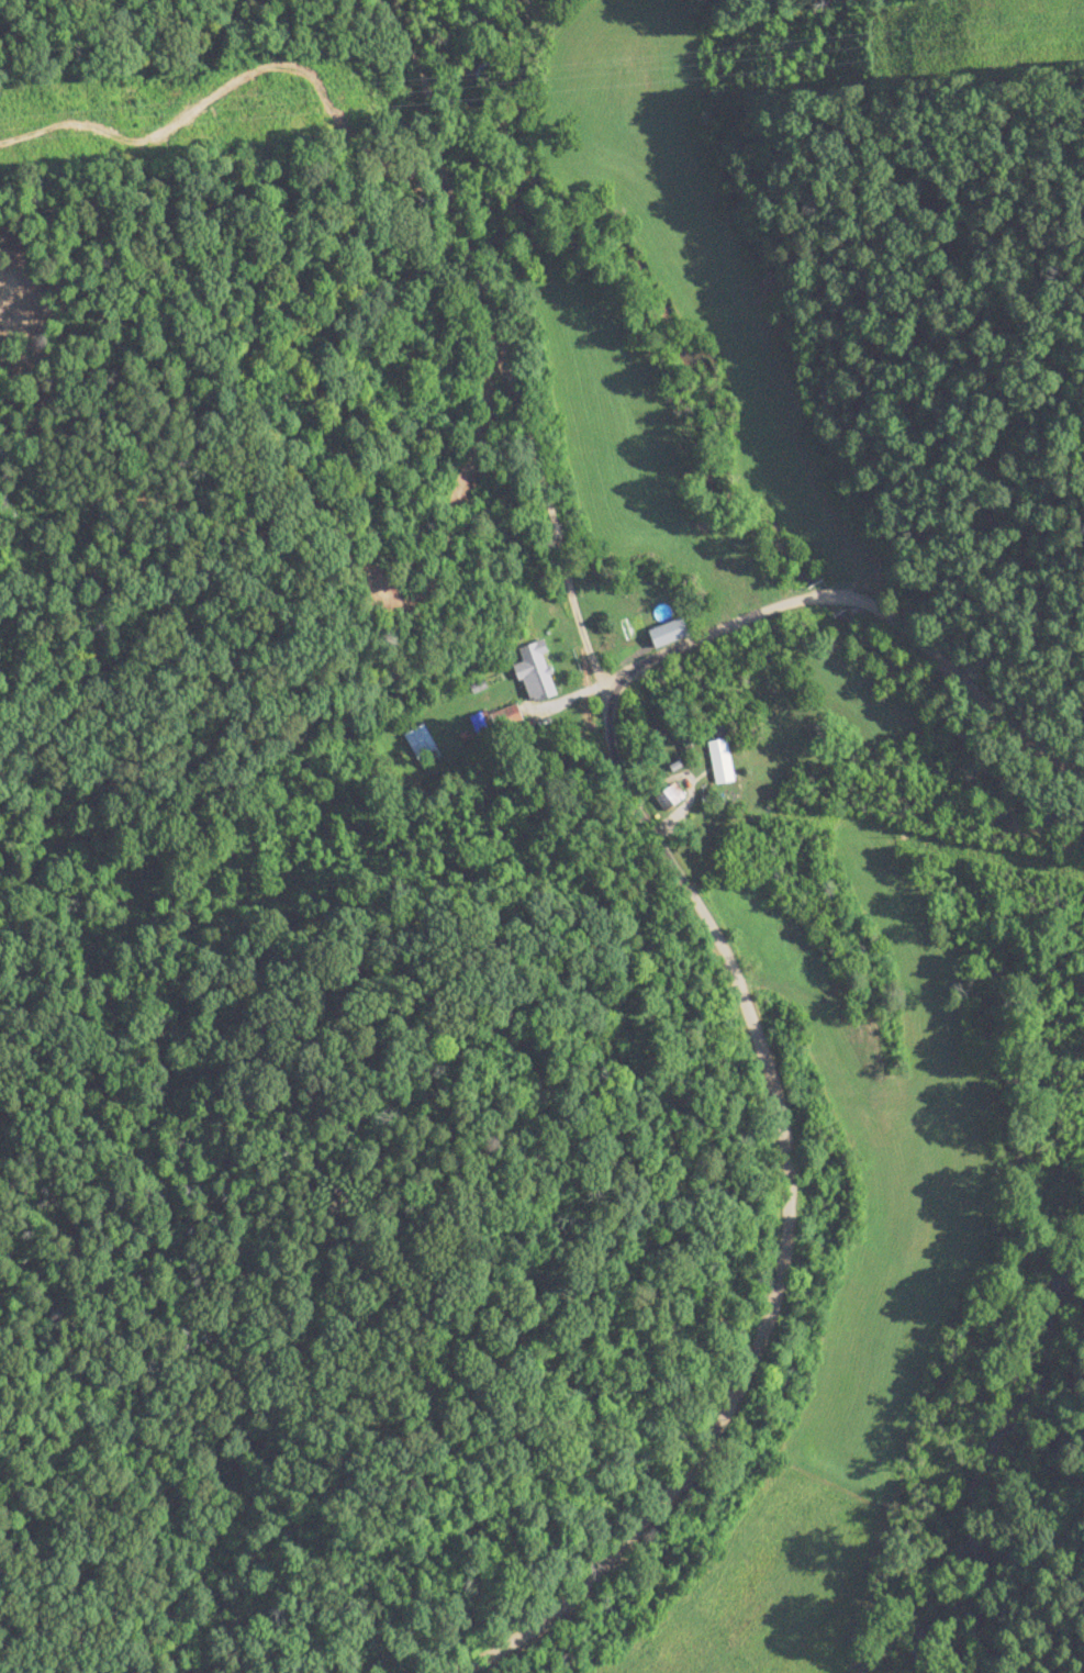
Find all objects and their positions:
road: (852, 600)
building: (668, 633)
building: (536, 673)
building: (510, 717)
building: (422, 746)
building: (722, 758)
building: (669, 798)
road: (685, 882)
river: (975, 1462)

